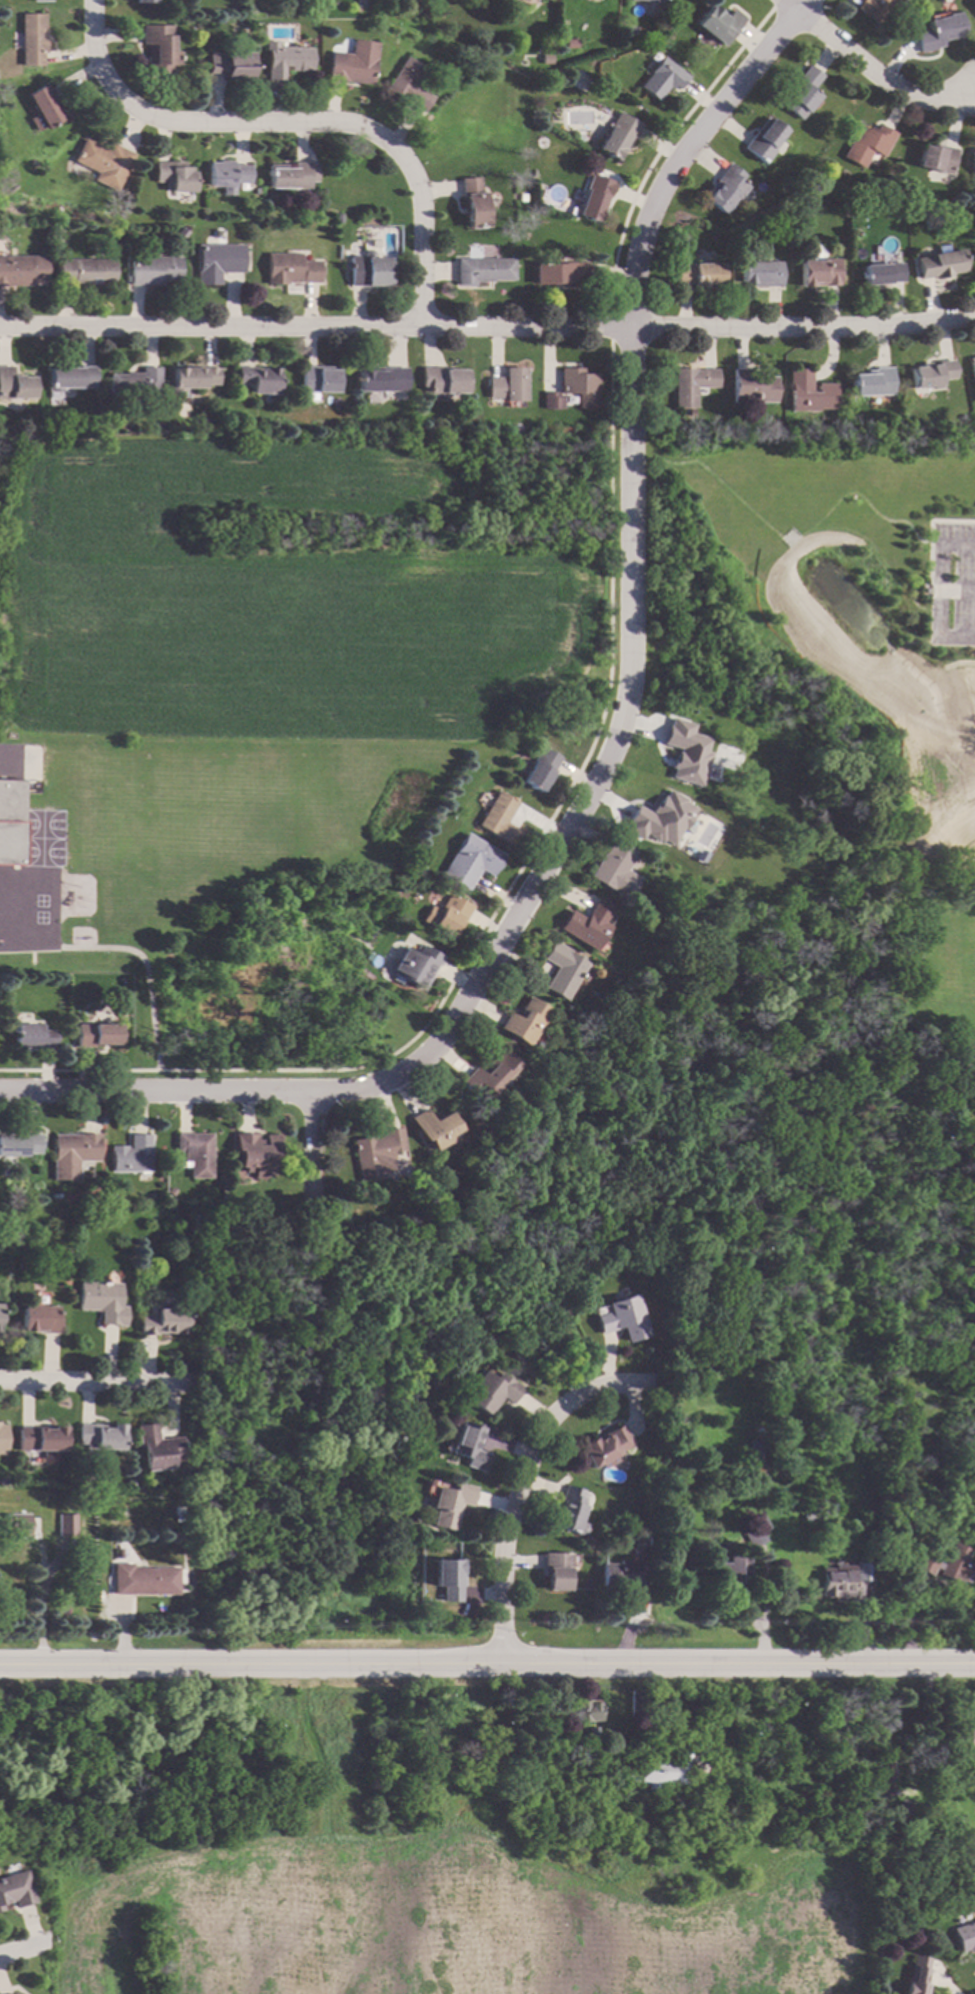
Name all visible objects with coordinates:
building: (40, 0)
building: (651, 0)
building: (143, 1)
building: (974, 1)
building: (359, 4)
building: (872, 9)
building: (0, 20)
building: (190, 24)
building: (717, 24)
building: (628, 29)
building: (938, 31)
building: (31, 39)
building: (569, 43)
building: (157, 49)
building: (545, 59)
building: (284, 60)
building: (353, 63)
building: (229, 64)
road: (866, 72)
building: (661, 78)
building: (408, 85)
building: (801, 92)
building: (47, 109)
road: (290, 120)
building: (616, 136)
building: (762, 139)
building: (866, 144)
building: (936, 158)
building: (972, 161)
building: (101, 162)
building: (226, 174)
building: (173, 176)
building: (287, 176)
building: (724, 188)
building: (255, 190)
building: (242, 191)
building: (897, 195)
building: (553, 197)
building: (594, 197)
building: (473, 203)
building: (336, 216)
building: (217, 262)
building: (941, 263)
building: (20, 269)
building: (290, 269)
building: (368, 269)
building: (153, 270)
building: (482, 270)
building: (84, 271)
building: (818, 272)
building: (760, 273)
building: (883, 273)
building: (558, 274)
building: (699, 275)
road: (487, 327)
building: (973, 366)
building: (932, 374)
building: (69, 378)
building: (191, 378)
building: (258, 379)
building: (318, 379)
building: (381, 379)
building: (442, 380)
building: (873, 382)
building: (134, 383)
building: (691, 384)
building: (14, 385)
building: (507, 385)
building: (578, 386)
building: (751, 387)
building: (808, 392)
building: (551, 401)
road: (936, 592)
crop: (267, 604)
road: (972, 714)
road: (612, 742)
building: (684, 753)
building: (539, 769)
building: (497, 818)
building: (658, 819)
building: (10, 822)
park: (42, 838)
building: (469, 861)
building: (614, 870)
building: (449, 916)
building: (586, 924)
road: (137, 955)
building: (412, 966)
building: (560, 969)
building: (595, 972)
building: (523, 1022)
building: (94, 1034)
building: (31, 1036)
building: (962, 1064)
building: (487, 1074)
building: (432, 1128)
road: (309, 1141)
building: (18, 1144)
building: (374, 1151)
building: (193, 1153)
building: (255, 1153)
building: (70, 1154)
building: (129, 1155)
park: (556, 1181)
building: (356, 1192)
building: (19, 1266)
building: (100, 1301)
building: (38, 1318)
building: (621, 1318)
building: (161, 1321)
road: (87, 1381)
building: (489, 1391)
building: (773, 1398)
building: (757, 1430)
building: (99, 1436)
building: (2, 1438)
building: (41, 1441)
building: (468, 1446)
building: (604, 1446)
building: (156, 1448)
building: (756, 1448)
building: (759, 1469)
road: (521, 1485)
building: (449, 1505)
building: (569, 1509)
building: (815, 1515)
building: (66, 1524)
building: (16, 1525)
building: (756, 1531)
building: (633, 1548)
building: (119, 1553)
building: (948, 1564)
building: (731, 1569)
building: (556, 1570)
building: (624, 1576)
building: (446, 1577)
building: (844, 1578)
building: (144, 1579)
road: (41, 1609)
road: (487, 1658)
building: (639, 1704)
building: (584, 1711)
building: (707, 1714)
building: (592, 1738)
building: (969, 1738)
road: (311, 1750)
building: (592, 1756)
building: (884, 1771)
building: (660, 1773)
building: (599, 1791)
building: (883, 1792)
building: (905, 1810)
building: (728, 1823)
building: (956, 1827)
building: (15, 1890)
building: (0, 1909)
crop: (428, 1916)
building: (965, 1937)
road: (16, 1948)
building: (916, 1975)

